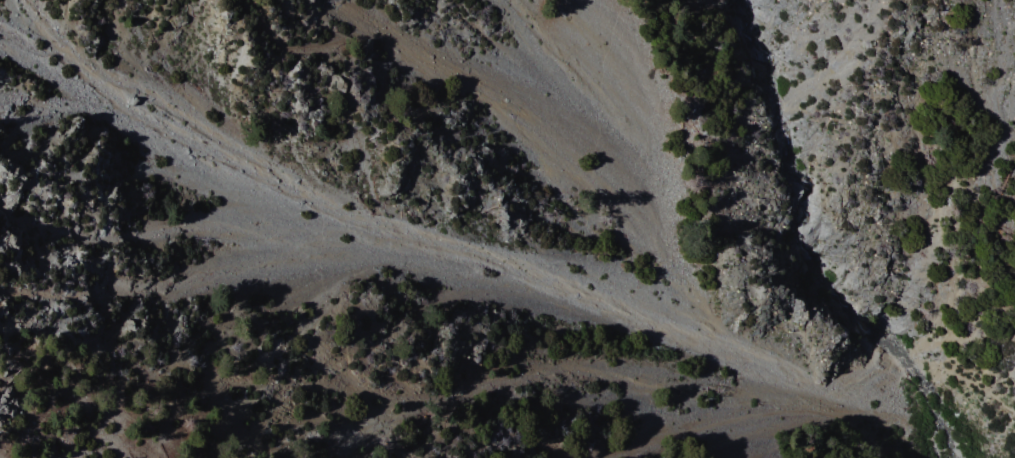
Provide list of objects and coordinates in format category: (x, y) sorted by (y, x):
road: (967, 382)

